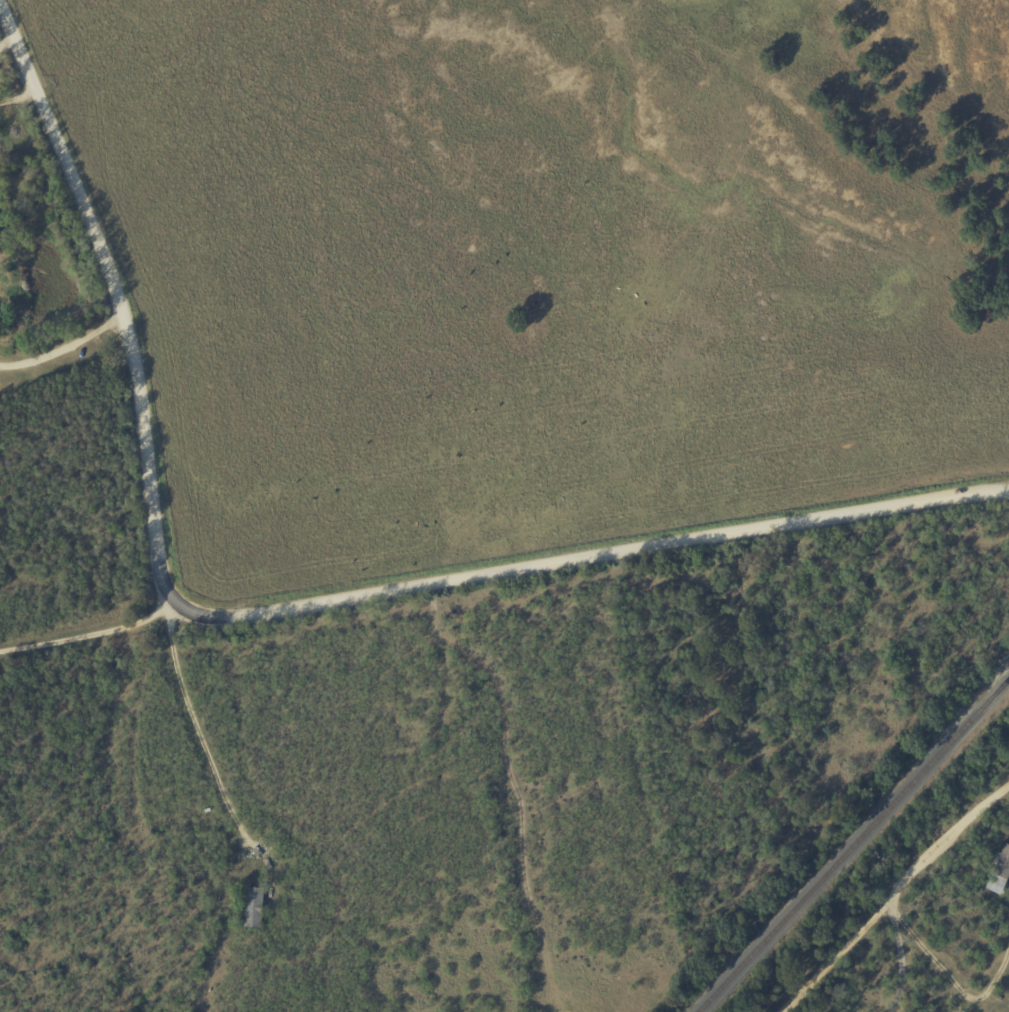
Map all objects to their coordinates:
road: (14, 101)
road: (63, 346)
road: (285, 610)
road: (89, 636)
road: (208, 736)
railway: (853, 845)
building: (1000, 872)
road: (1008, 888)
road: (894, 895)
building: (254, 908)
road: (904, 964)
road: (951, 981)

